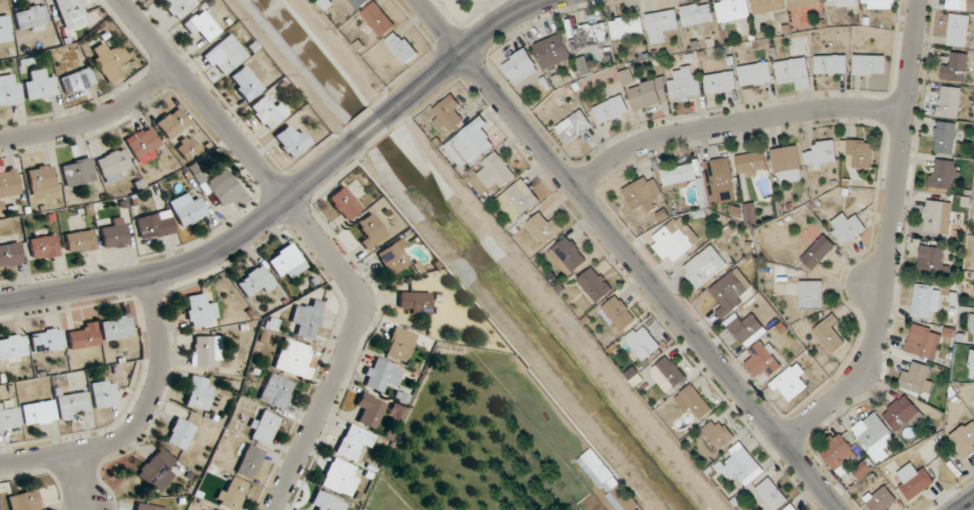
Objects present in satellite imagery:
building: (463, 0)
building: (842, 2)
building: (358, 3)
building: (802, 3)
building: (878, 4)
building: (961, 5)
building: (768, 6)
building: (178, 7)
building: (732, 10)
building: (71, 13)
building: (697, 14)
building: (30, 17)
building: (378, 19)
building: (661, 25)
building: (200, 26)
building: (627, 27)
building: (5, 28)
building: (958, 30)
building: (591, 34)
road: (469, 46)
building: (401, 47)
building: (553, 51)
building: (225, 55)
building: (109, 61)
building: (831, 65)
building: (869, 65)
building: (520, 67)
building: (956, 68)
building: (795, 73)
building: (755, 74)
building: (77, 81)
building: (720, 82)
building: (244, 83)
building: (40, 86)
building: (666, 89)
building: (10, 90)
building: (949, 102)
building: (611, 109)
building: (268, 112)
building: (448, 114)
road: (93, 118)
building: (172, 123)
road: (732, 123)
road: (373, 126)
building: (574, 127)
building: (945, 138)
building: (292, 141)
building: (142, 142)
building: (470, 144)
building: (186, 148)
building: (857, 153)
building: (820, 155)
building: (752, 164)
building: (112, 165)
building: (787, 165)
building: (78, 172)
building: (492, 174)
building: (680, 174)
building: (942, 174)
building: (41, 180)
building: (719, 181)
building: (9, 183)
building: (223, 187)
building: (643, 193)
building: (518, 200)
building: (344, 203)
building: (187, 210)
building: (750, 214)
building: (937, 217)
building: (155, 225)
building: (545, 228)
building: (847, 229)
building: (371, 231)
building: (115, 234)
road: (316, 235)
road: (890, 239)
building: (79, 241)
building: (671, 244)
building: (43, 247)
building: (819, 252)
building: (10, 254)
road: (628, 255)
building: (973, 255)
building: (568, 256)
building: (393, 257)
building: (284, 260)
building: (932, 260)
road: (190, 262)
building: (704, 267)
building: (256, 281)
building: (595, 284)
building: (731, 292)
building: (811, 294)
building: (927, 301)
building: (414, 303)
building: (973, 304)
building: (200, 311)
building: (619, 313)
building: (307, 319)
building: (971, 322)
building: (116, 328)
building: (746, 328)
building: (830, 334)
building: (84, 336)
building: (46, 340)
building: (644, 341)
building: (924, 342)
building: (399, 344)
building: (12, 347)
building: (203, 351)
building: (293, 359)
building: (764, 359)
building: (971, 364)
building: (668, 374)
building: (380, 375)
building: (918, 378)
building: (792, 382)
building: (198, 393)
building: (279, 393)
building: (103, 394)
building: (694, 403)
building: (72, 404)
building: (369, 409)
building: (38, 412)
building: (901, 413)
building: (8, 418)
road: (139, 420)
building: (264, 427)
building: (179, 434)
building: (719, 434)
building: (875, 436)
building: (964, 439)
building: (353, 441)
building: (837, 449)
building: (249, 462)
building: (741, 467)
building: (156, 468)
building: (339, 478)
road: (78, 481)
building: (608, 481)
building: (914, 482)
building: (231, 493)
building: (771, 494)
building: (881, 499)
building: (24, 501)
building: (326, 502)
road: (963, 502)
building: (148, 507)
building: (791, 507)

